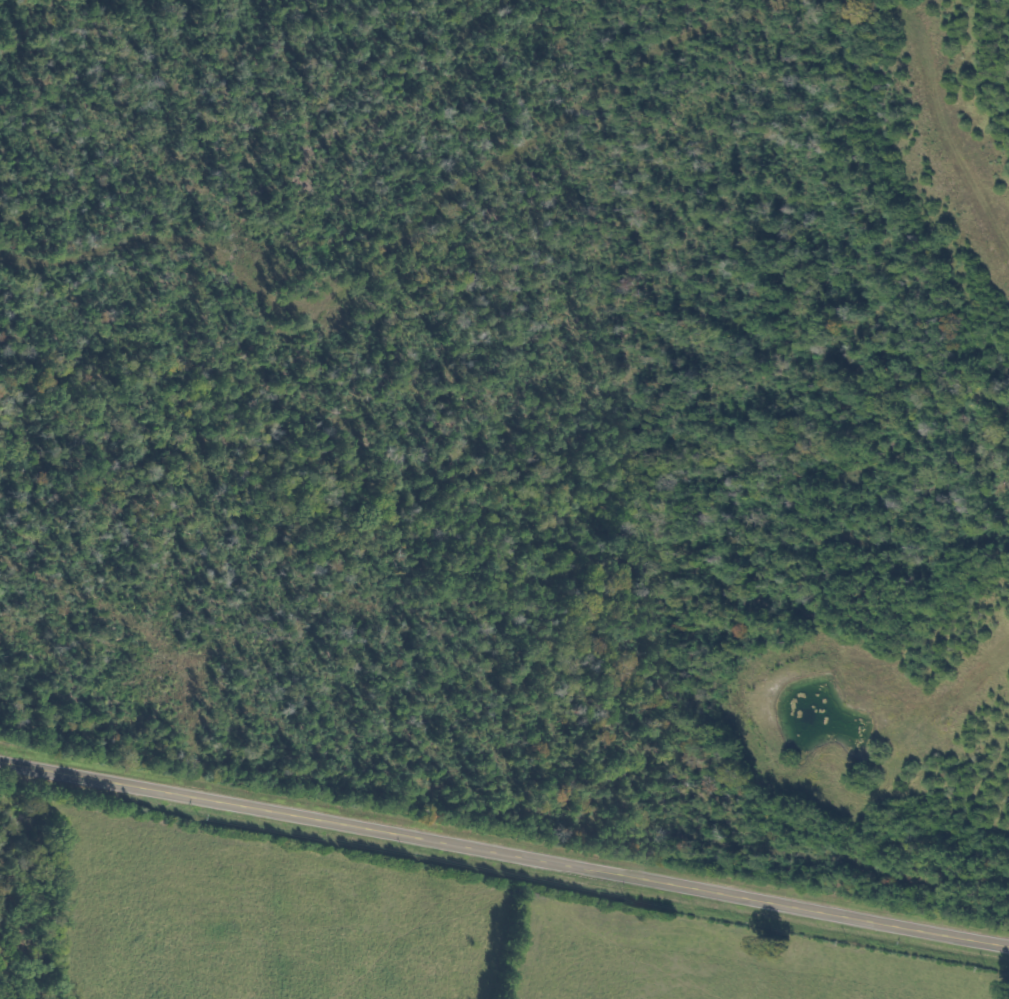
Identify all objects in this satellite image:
road: (504, 853)

